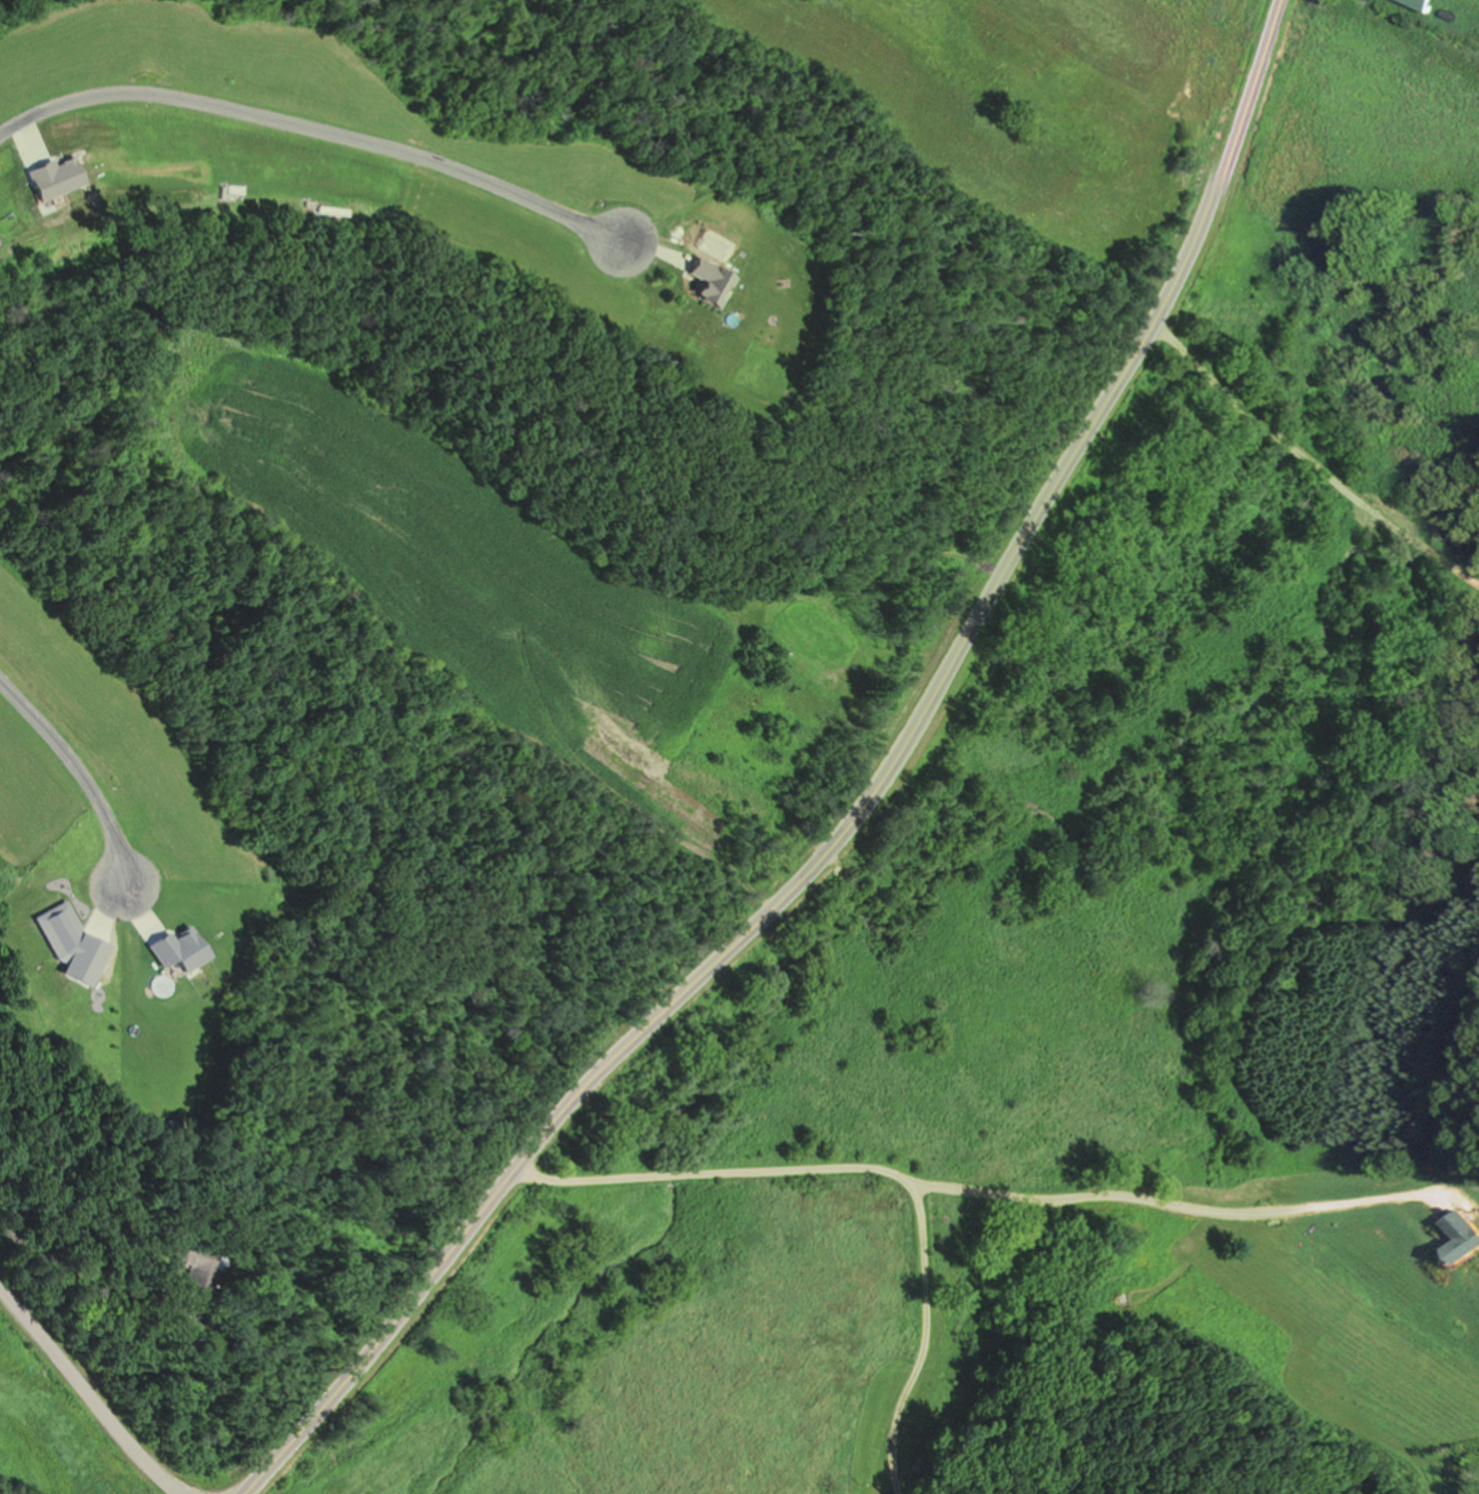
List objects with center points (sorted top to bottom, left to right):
road: (310, 125)
road: (1313, 466)
road: (75, 772)
road: (867, 815)
road: (877, 1165)
road: (163, 1251)
building: (183, 1251)
building: (229, 1303)
road: (89, 1390)

